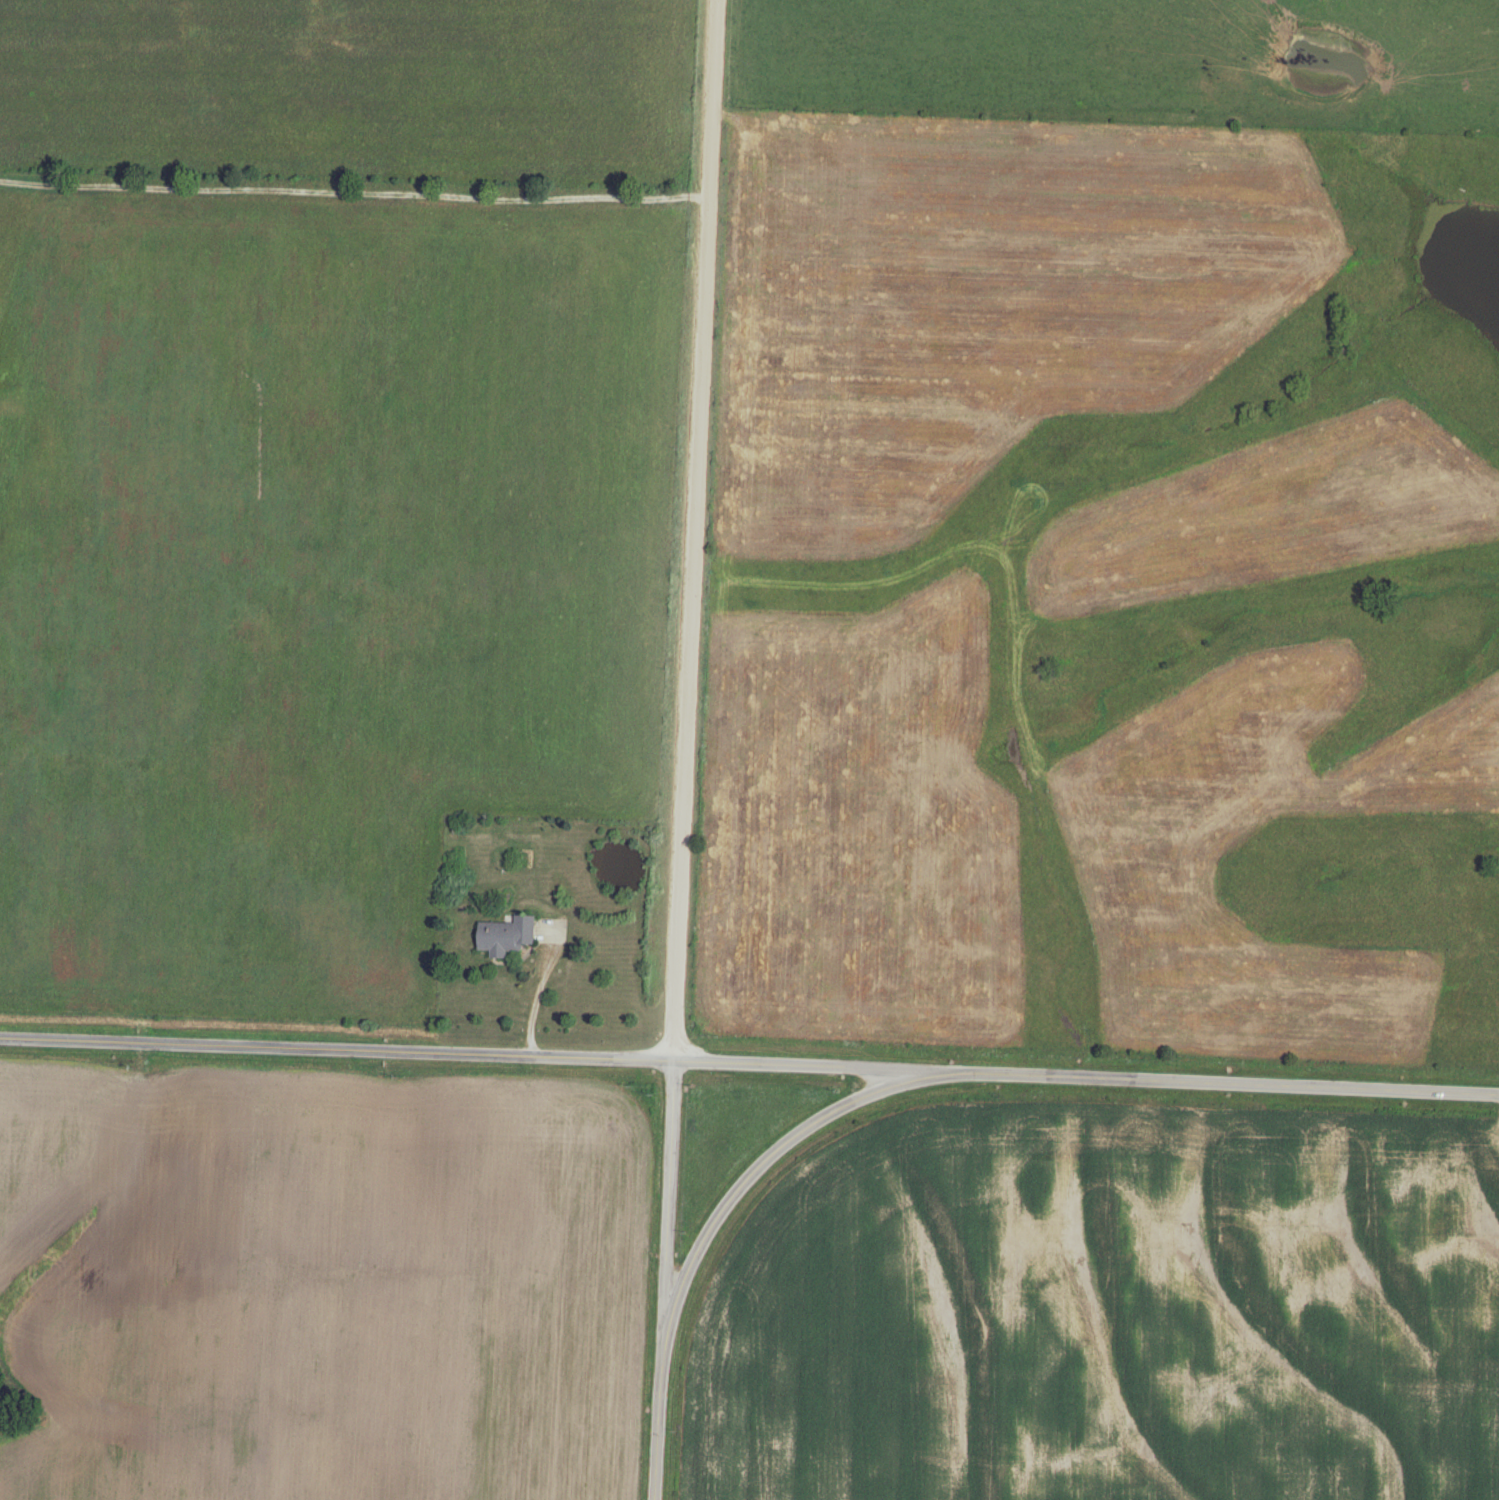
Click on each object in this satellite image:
road: (692, 528)
road: (533, 1003)
road: (336, 1051)
road: (802, 1062)
road: (1214, 1080)
road: (753, 1172)
road: (663, 1278)

